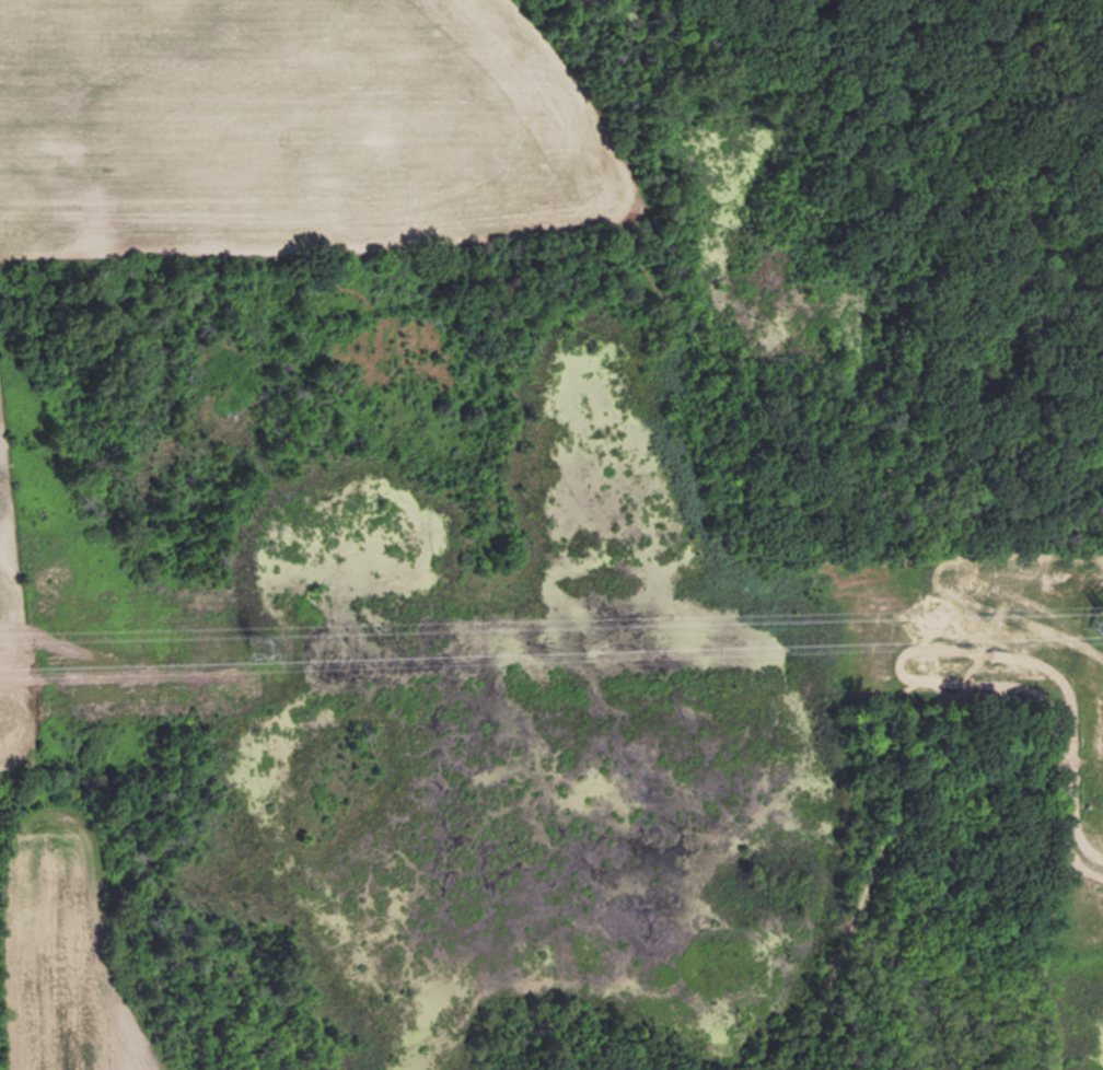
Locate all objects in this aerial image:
power tower: (265, 649)

